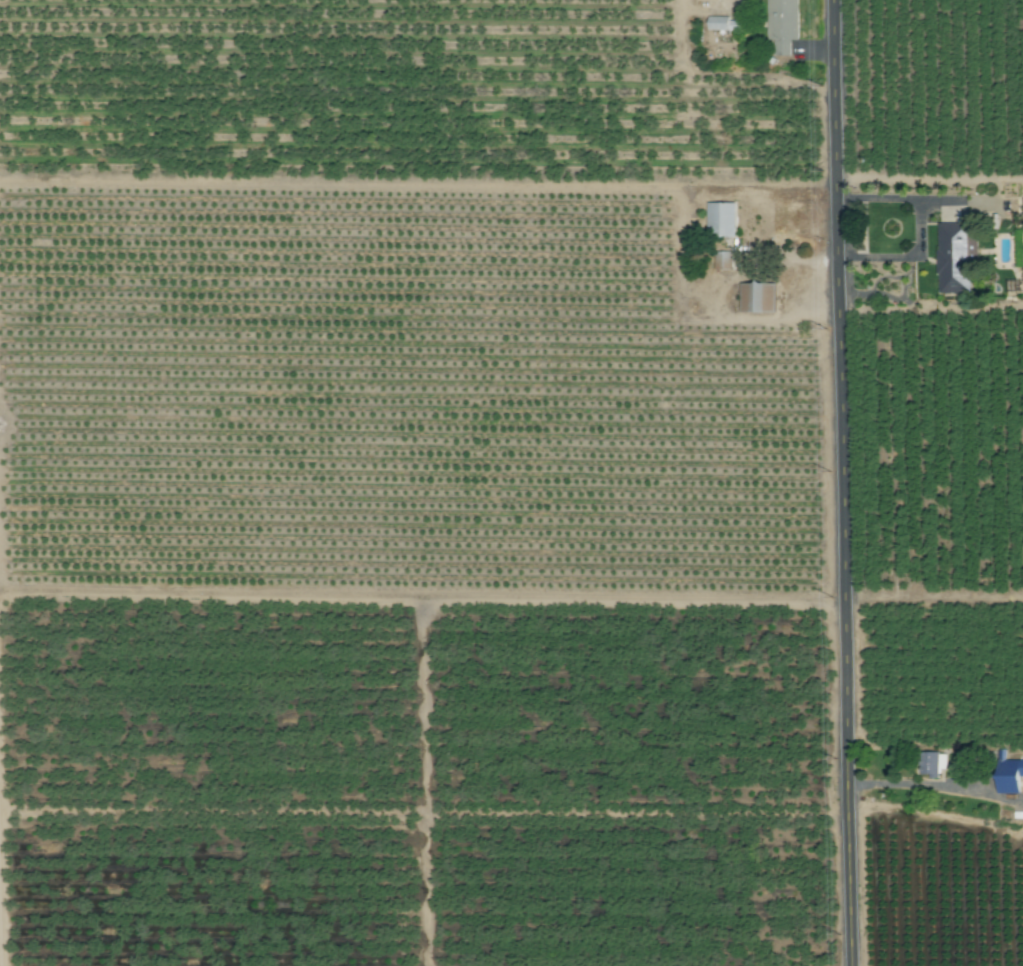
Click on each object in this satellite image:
building: (726, 25)
building: (783, 25)
road: (930, 181)
building: (723, 220)
road: (917, 227)
building: (952, 259)
building: (724, 261)
road: (713, 297)
building: (758, 298)
road: (844, 482)
road: (935, 594)
building: (930, 763)
building: (1008, 776)
road: (936, 786)

